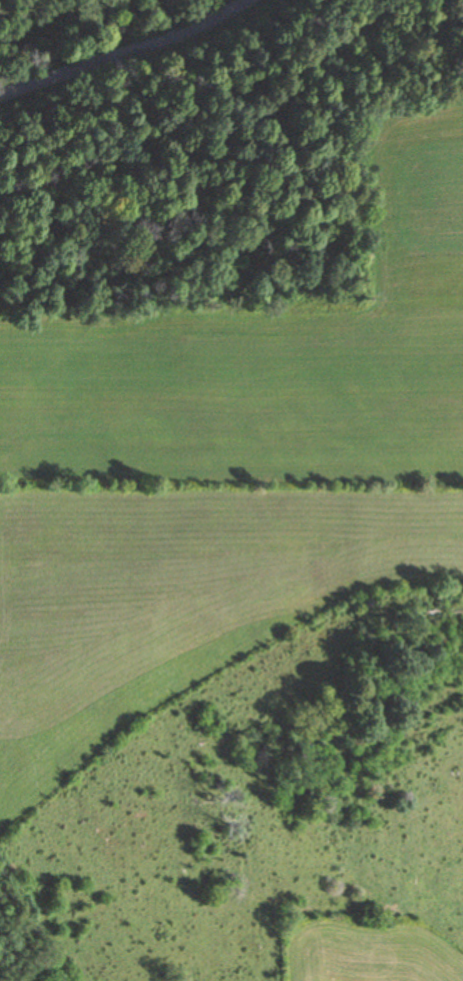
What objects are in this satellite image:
road: (119, 51)

